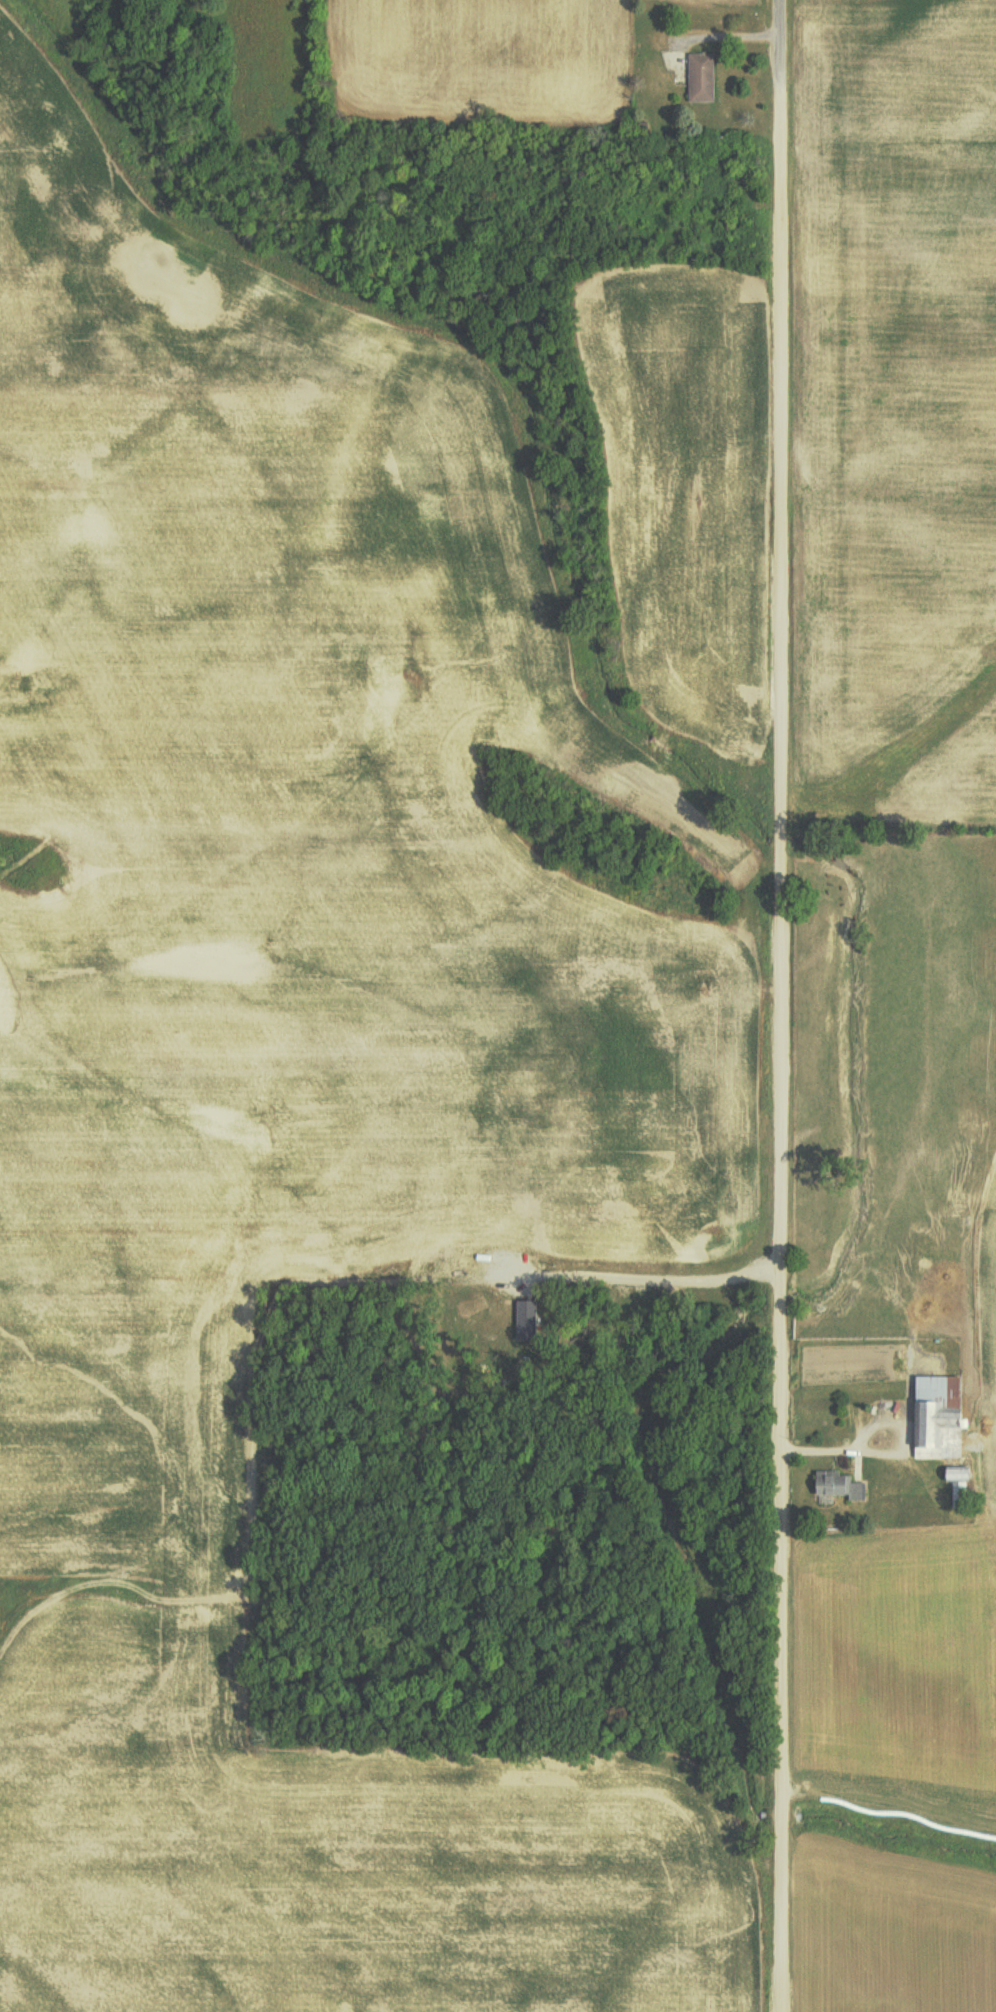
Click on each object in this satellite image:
crop: (722, 1)
crop: (490, 62)
building: (700, 76)
crop: (901, 401)
road: (778, 892)
crop: (279, 1119)
building: (955, 1472)
building: (836, 1484)
road: (779, 1810)
road: (778, 1923)

